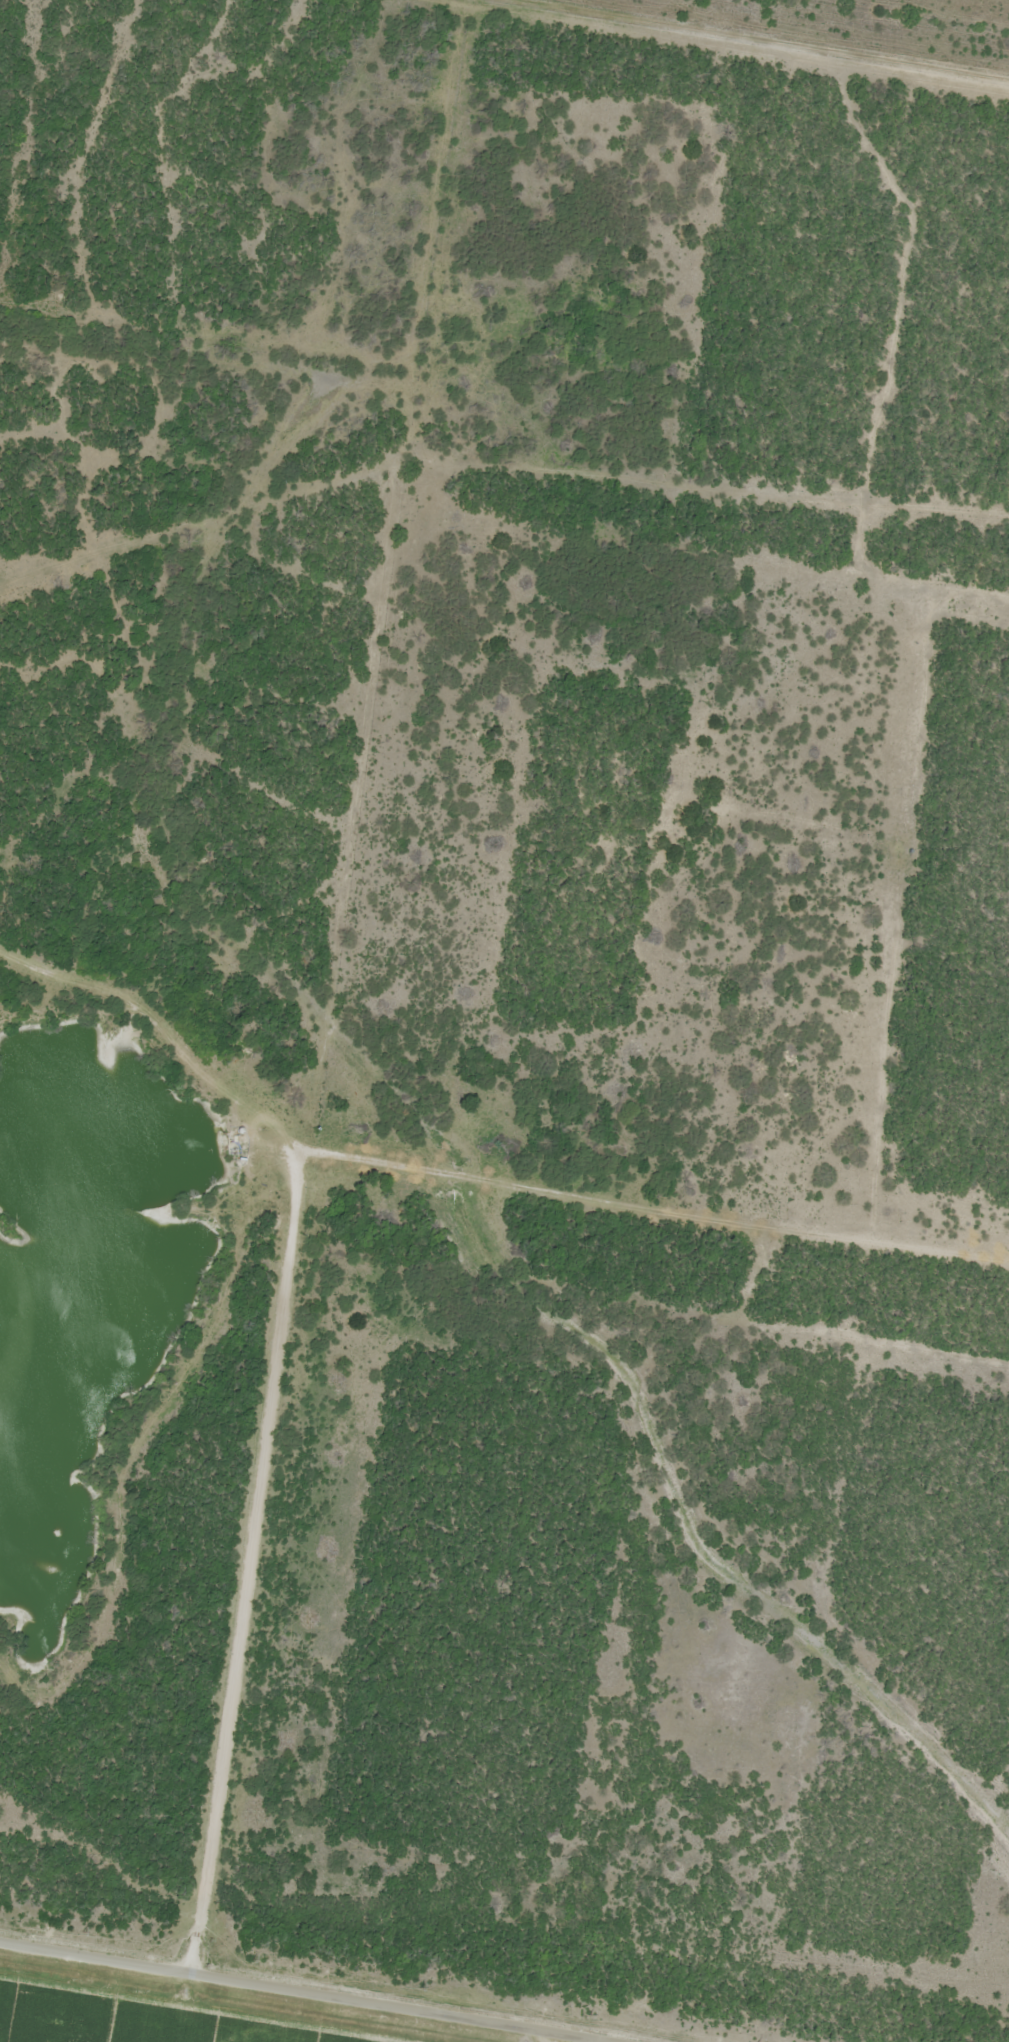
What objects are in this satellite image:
railway: (441, 1968)
road: (306, 1991)

